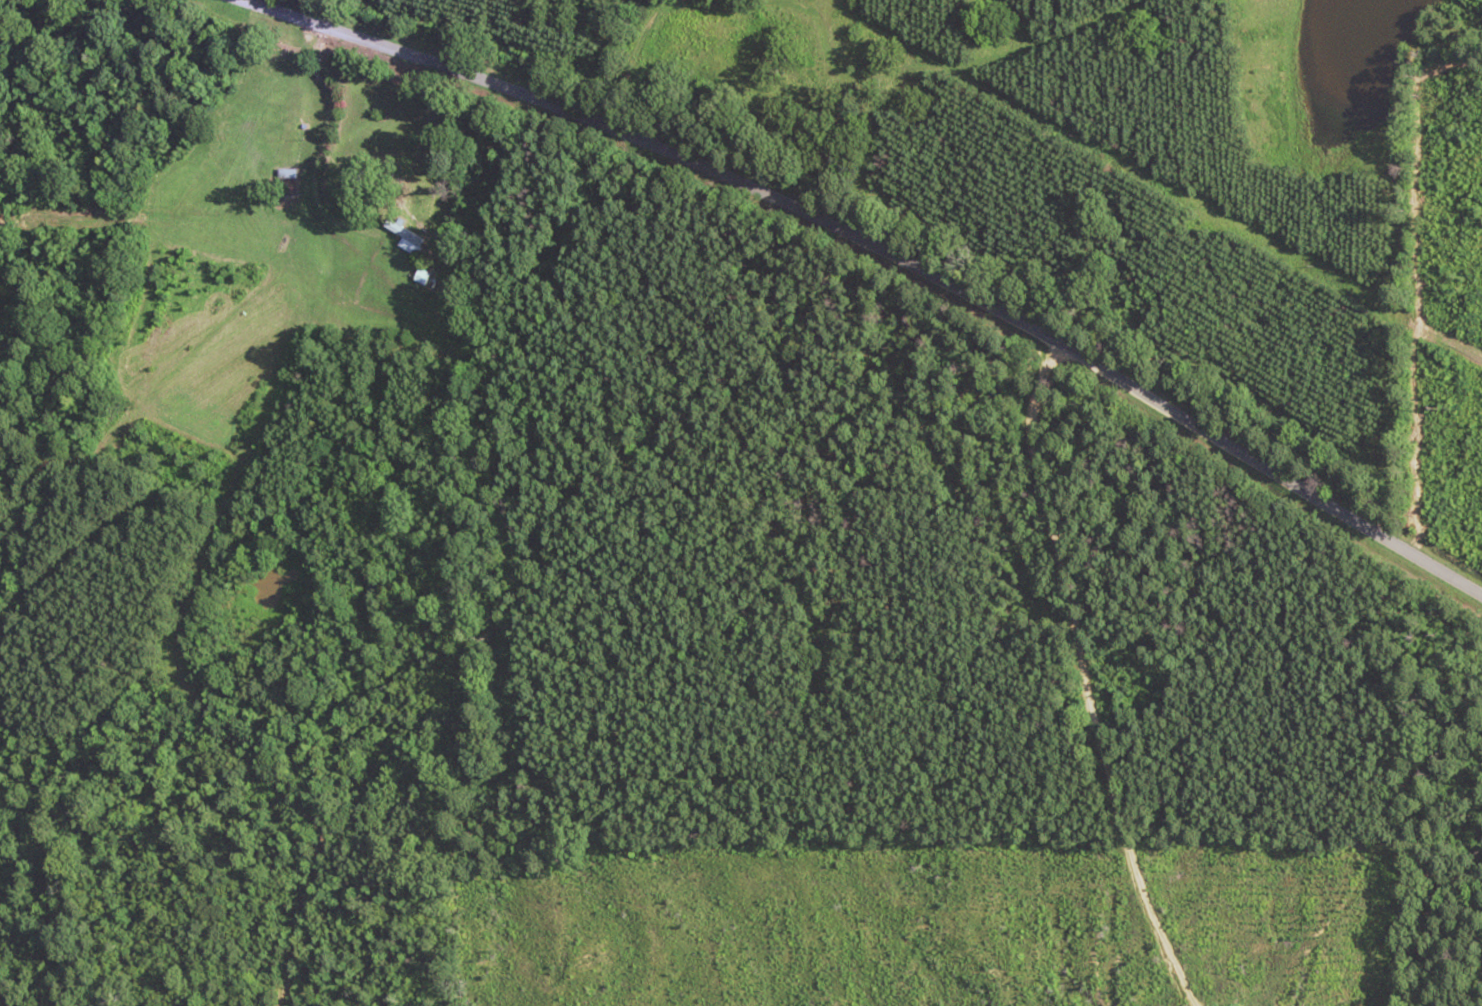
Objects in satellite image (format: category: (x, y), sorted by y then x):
building: (407, 236)
road: (886, 251)
building: (425, 276)
road: (1074, 679)

